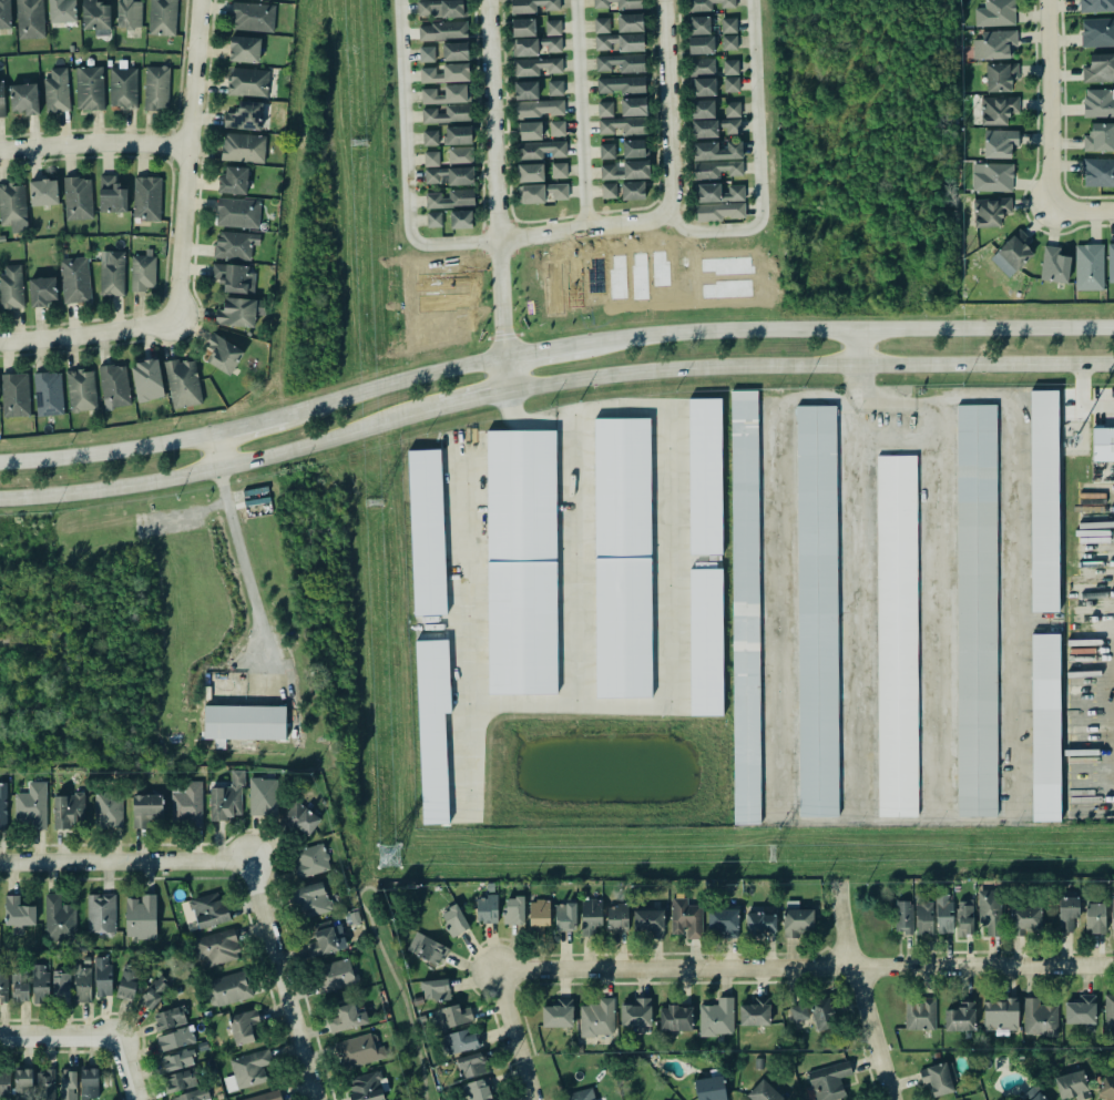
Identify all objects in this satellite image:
building: (619, 3)
building: (708, 4)
building: (1095, 4)
building: (535, 6)
building: (441, 8)
building: (61, 11)
building: (93, 11)
building: (994, 12)
building: (127, 13)
building: (6, 16)
building: (254, 17)
building: (160, 18)
building: (28, 19)
building: (630, 23)
building: (602, 26)
building: (699, 26)
building: (728, 26)
building: (523, 28)
building: (552, 29)
building: (442, 31)
building: (1095, 31)
building: (727, 41)
building: (701, 43)
building: (993, 43)
building: (622, 44)
building: (535, 47)
building: (244, 50)
building: (454, 51)
building: (427, 54)
building: (622, 63)
building: (538, 67)
building: (703, 67)
building: (730, 67)
building: (1098, 69)
building: (444, 72)
building: (999, 75)
building: (248, 82)
building: (624, 83)
building: (732, 84)
building: (702, 85)
building: (90, 88)
building: (123, 88)
building: (155, 89)
building: (525, 90)
building: (57, 91)
building: (446, 93)
building: (23, 100)
building: (1, 101)
building: (1098, 103)
road: (1049, 105)
building: (633, 106)
road: (667, 106)
building: (540, 109)
building: (605, 109)
building: (703, 109)
building: (733, 109)
building: (997, 109)
building: (447, 113)
road: (579, 114)
building: (245, 118)
building: (622, 125)
building: (713, 125)
building: (542, 130)
building: (448, 136)
building: (1100, 137)
building: (998, 141)
power tower: (358, 142)
road: (93, 143)
building: (243, 147)
building: (539, 149)
building: (633, 149)
building: (607, 151)
building: (717, 151)
building: (460, 155)
road: (187, 159)
building: (431, 159)
road: (756, 162)
road: (403, 164)
building: (718, 169)
building: (558, 170)
building: (530, 171)
building: (626, 171)
building: (1098, 173)
building: (449, 174)
building: (991, 175)
road: (495, 180)
building: (233, 182)
building: (540, 191)
building: (609, 191)
building: (633, 191)
building: (42, 192)
building: (718, 192)
building: (112, 196)
building: (146, 198)
building: (451, 198)
building: (78, 200)
building: (11, 204)
building: (717, 210)
building: (990, 211)
building: (238, 212)
road: (1082, 212)
building: (461, 217)
building: (435, 220)
road: (582, 230)
building: (234, 245)
building: (1010, 255)
building: (1111, 263)
building: (1054, 266)
building: (1087, 266)
building: (111, 274)
building: (143, 274)
building: (228, 275)
building: (74, 279)
building: (10, 286)
building: (41, 289)
building: (241, 310)
road: (861, 329)
road: (89, 336)
road: (857, 345)
road: (555, 350)
building: (222, 353)
road: (985, 359)
road: (678, 364)
road: (502, 376)
building: (147, 380)
road: (394, 381)
building: (183, 383)
building: (114, 386)
building: (81, 390)
building: (47, 393)
building: (16, 395)
road: (471, 398)
road: (251, 424)
building: (1103, 445)
road: (216, 451)
road: (105, 454)
road: (222, 467)
building: (702, 475)
building: (1042, 500)
power tower: (375, 503)
building: (619, 556)
road: (242, 558)
building: (519, 560)
building: (743, 603)
building: (816, 610)
road: (936, 610)
building: (974, 610)
road: (847, 611)
building: (895, 634)
building: (704, 641)
building: (243, 722)
building: (1044, 726)
building: (263, 796)
building: (226, 797)
building: (187, 803)
building: (2, 804)
building: (31, 805)
building: (67, 808)
building: (144, 808)
building: (108, 811)
building: (300, 819)
road: (946, 819)
power tower: (387, 855)
building: (309, 859)
power tower: (768, 859)
road: (123, 860)
road: (368, 886)
building: (311, 898)
building: (487, 909)
building: (513, 910)
building: (989, 910)
building: (18, 911)
building: (209, 911)
building: (1112, 911)
building: (943, 913)
building: (1067, 913)
building: (101, 914)
building: (538, 915)
building: (591, 915)
building: (565, 916)
building: (901, 916)
building: (141, 917)
building: (964, 917)
building: (1094, 917)
building: (617, 918)
building: (685, 918)
building: (1023, 918)
building: (58, 919)
building: (457, 919)
building: (797, 919)
building: (757, 920)
building: (648, 921)
building: (722, 921)
building: (922, 921)
road: (838, 924)
building: (324, 940)
building: (216, 947)
building: (426, 948)
road: (800, 966)
building: (335, 975)
building: (103, 977)
road: (280, 980)
building: (82, 982)
building: (126, 982)
building: (40, 984)
building: (60, 985)
building: (13, 986)
building: (226, 988)
building: (436, 989)
park: (395, 990)
building: (153, 991)
road: (405, 1002)
building: (1080, 1009)
building: (754, 1011)
building: (1108, 1011)
building: (919, 1012)
building: (352, 1014)
building: (559, 1014)
building: (636, 1014)
building: (816, 1014)
building: (1000, 1014)
building: (960, 1017)
building: (597, 1018)
building: (674, 1018)
building: (717, 1018)
building: (1039, 1018)
building: (167, 1019)
building: (243, 1026)
road: (868, 1032)
road: (507, 1035)
building: (176, 1038)
road: (89, 1039)
building: (461, 1041)
building: (357, 1050)
building: (178, 1060)
building: (470, 1063)
building: (251, 1068)
building: (939, 1079)
building: (180, 1081)
building: (829, 1081)
building: (22, 1082)
building: (67, 1083)
building: (89, 1083)
building: (4, 1084)
building: (1073, 1086)
building: (1106, 1086)
building: (367, 1087)
building: (709, 1088)
building: (477, 1090)
building: (763, 1092)
building: (581, 1094)
building: (192, 1096)
building: (265, 1096)
building: (1038, 1097)

